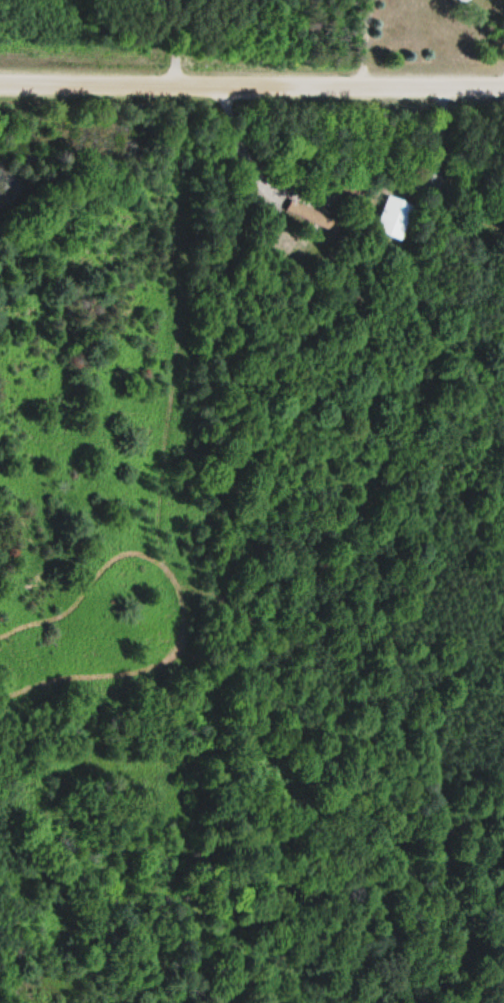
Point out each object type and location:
road: (364, 43)
road: (251, 85)
road: (260, 179)

